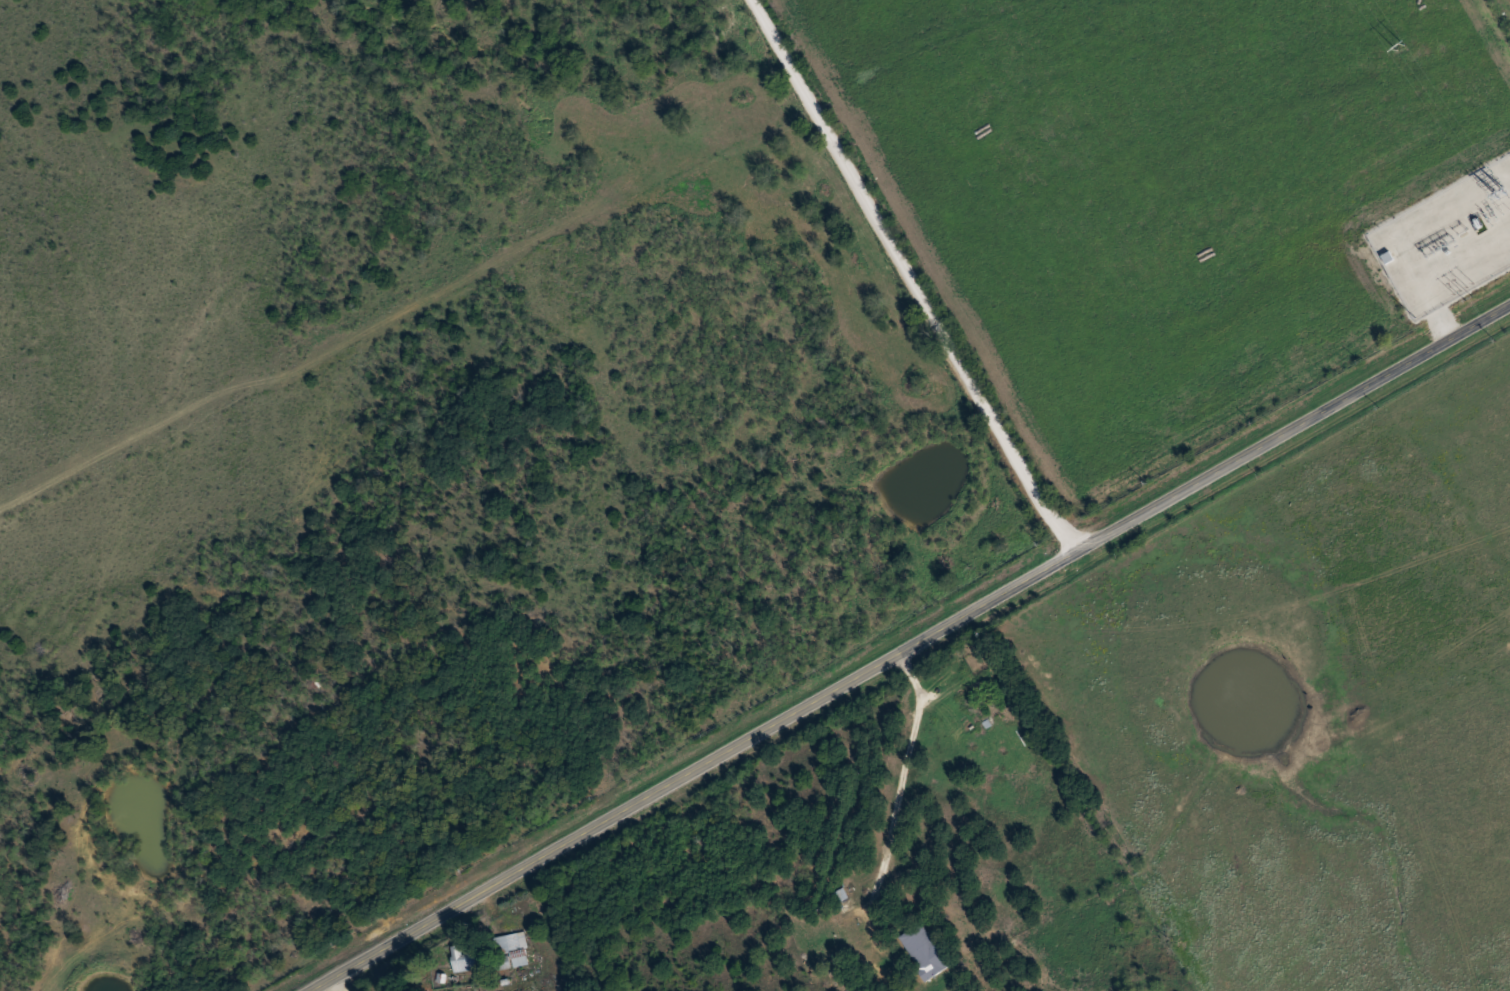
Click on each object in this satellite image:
road: (918, 279)
road: (913, 648)
building: (992, 706)
road: (900, 762)
road: (1103, 766)
building: (841, 899)
building: (853, 932)
building: (513, 949)
building: (925, 949)
road: (1278, 952)
building: (466, 956)
road: (339, 986)

